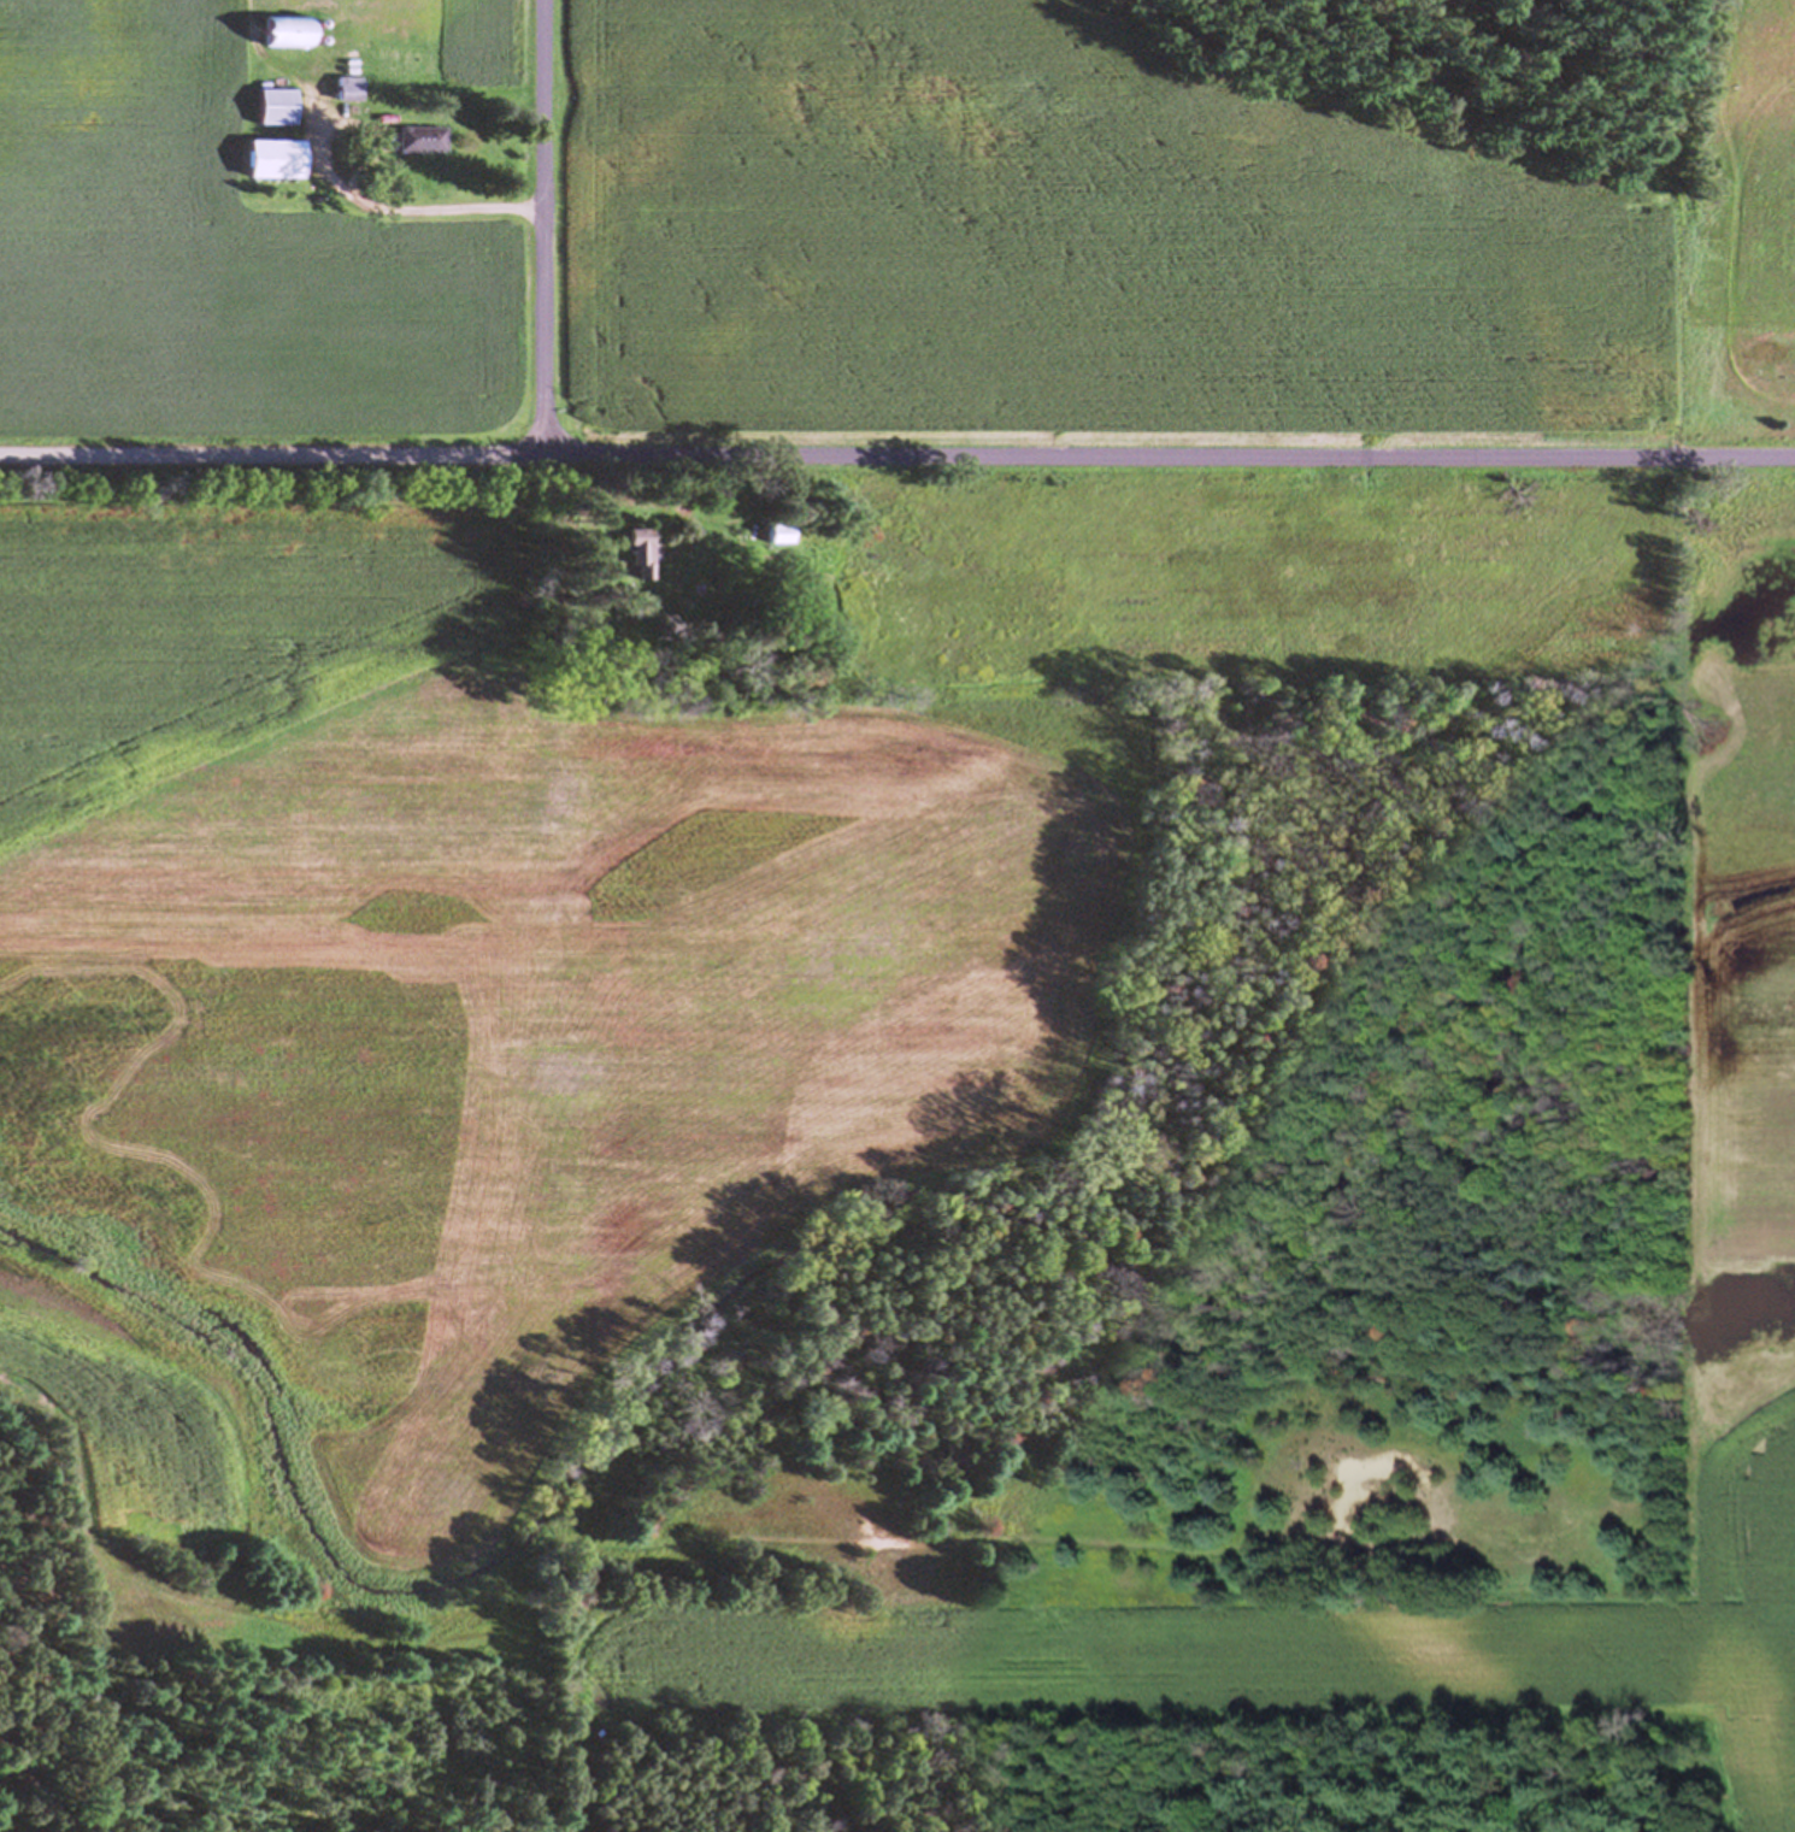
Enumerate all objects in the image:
building: (278, 35)
building: (343, 90)
building: (270, 107)
building: (417, 140)
building: (267, 160)
road: (542, 224)
building: (1794, 364)
road: (897, 452)
building: (772, 534)
building: (636, 555)

